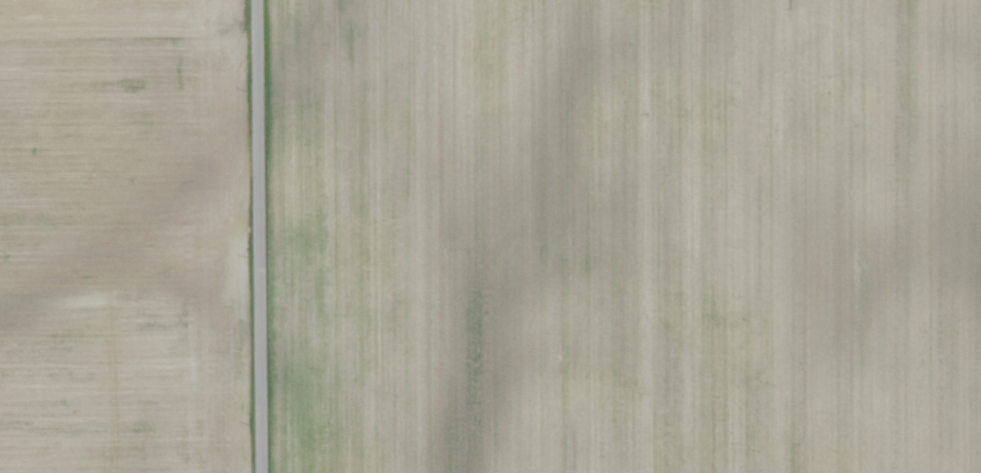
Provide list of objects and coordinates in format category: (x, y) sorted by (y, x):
road: (255, 236)

